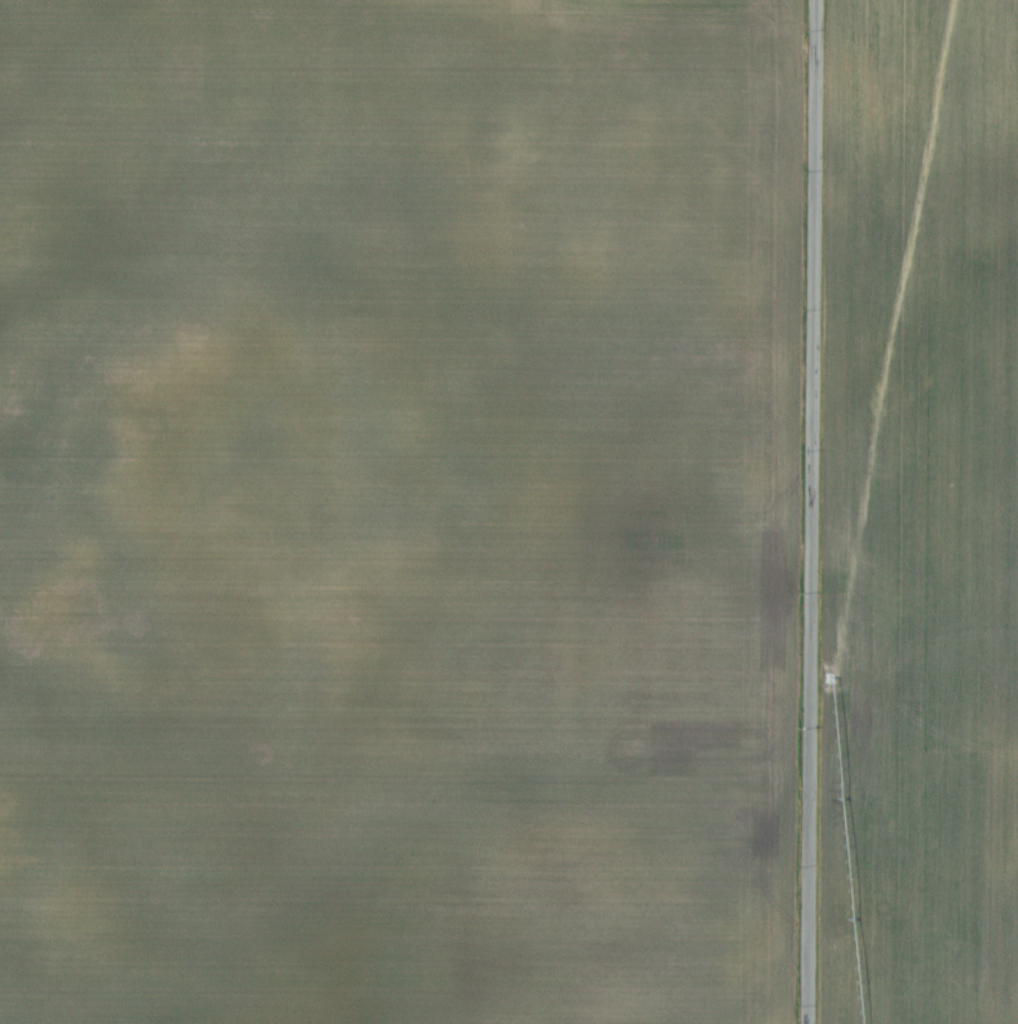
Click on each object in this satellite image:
road: (820, 512)

